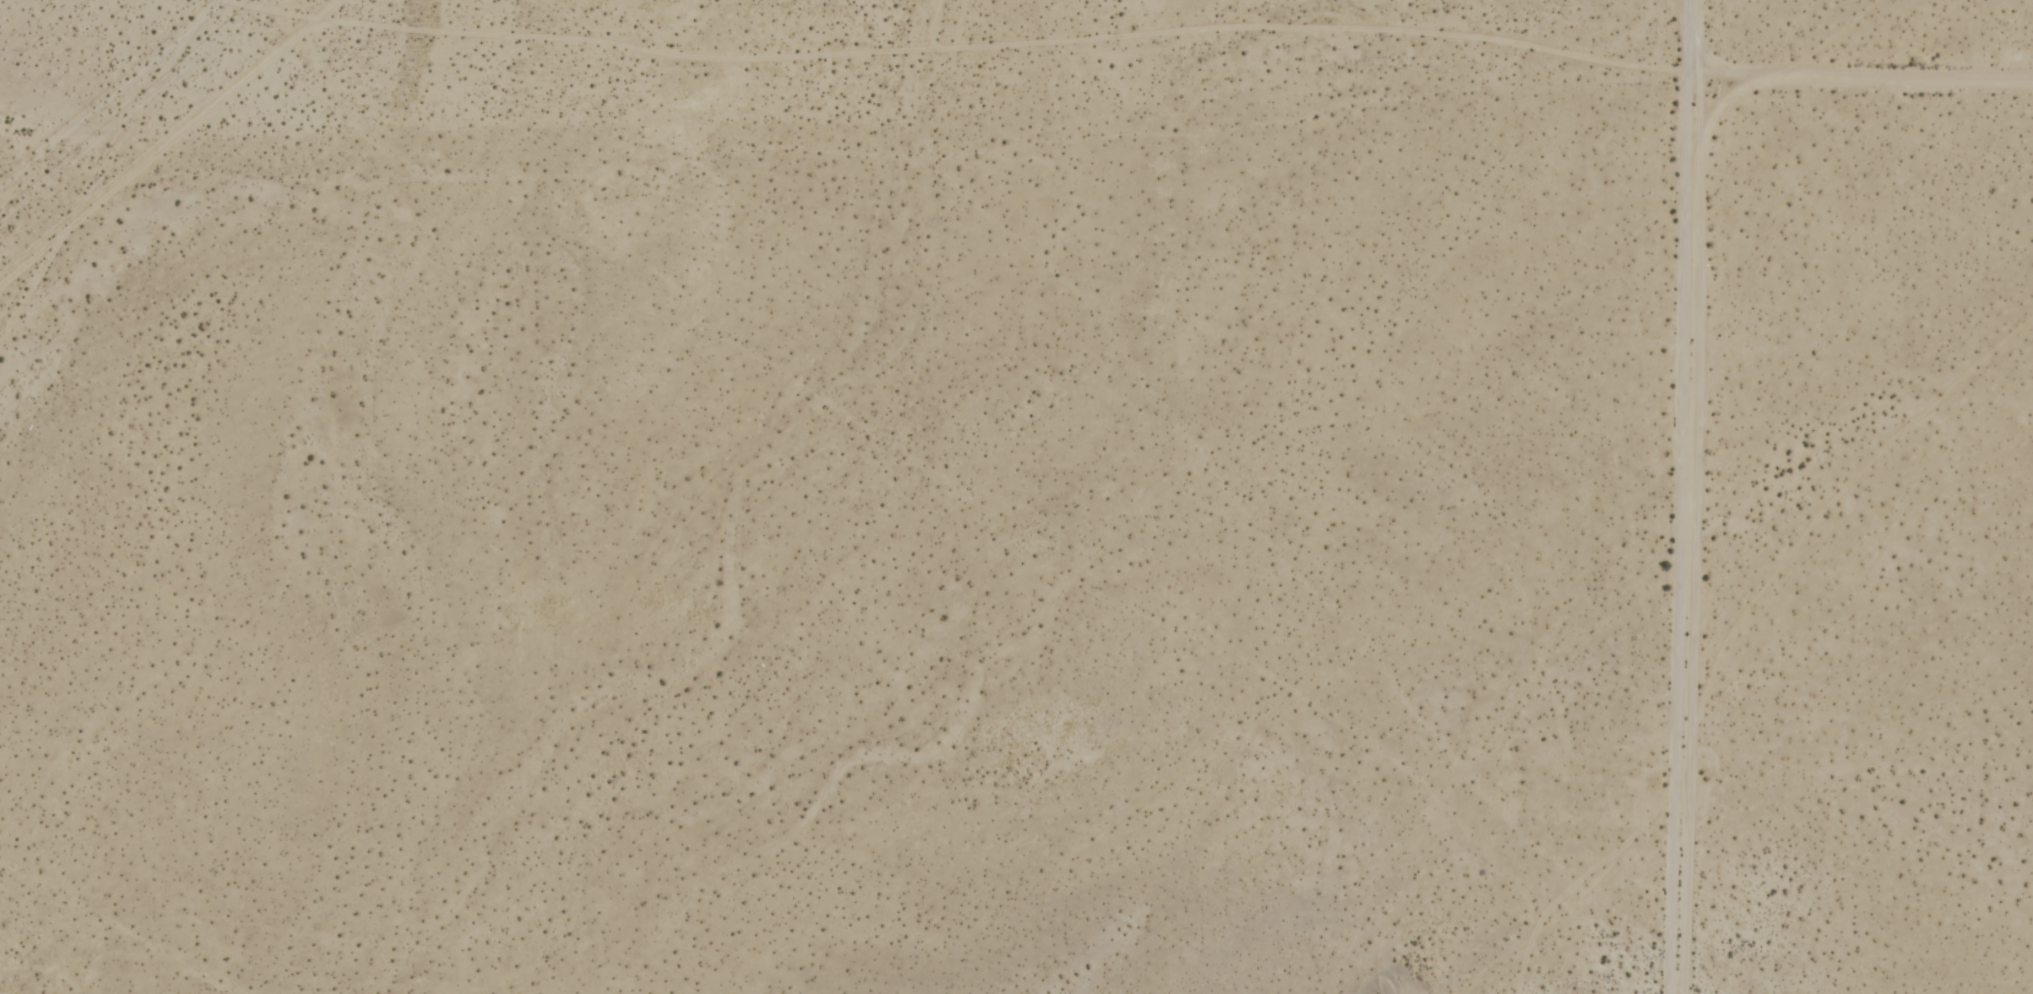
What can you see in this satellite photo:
road: (1866, 76)
road: (1691, 497)

